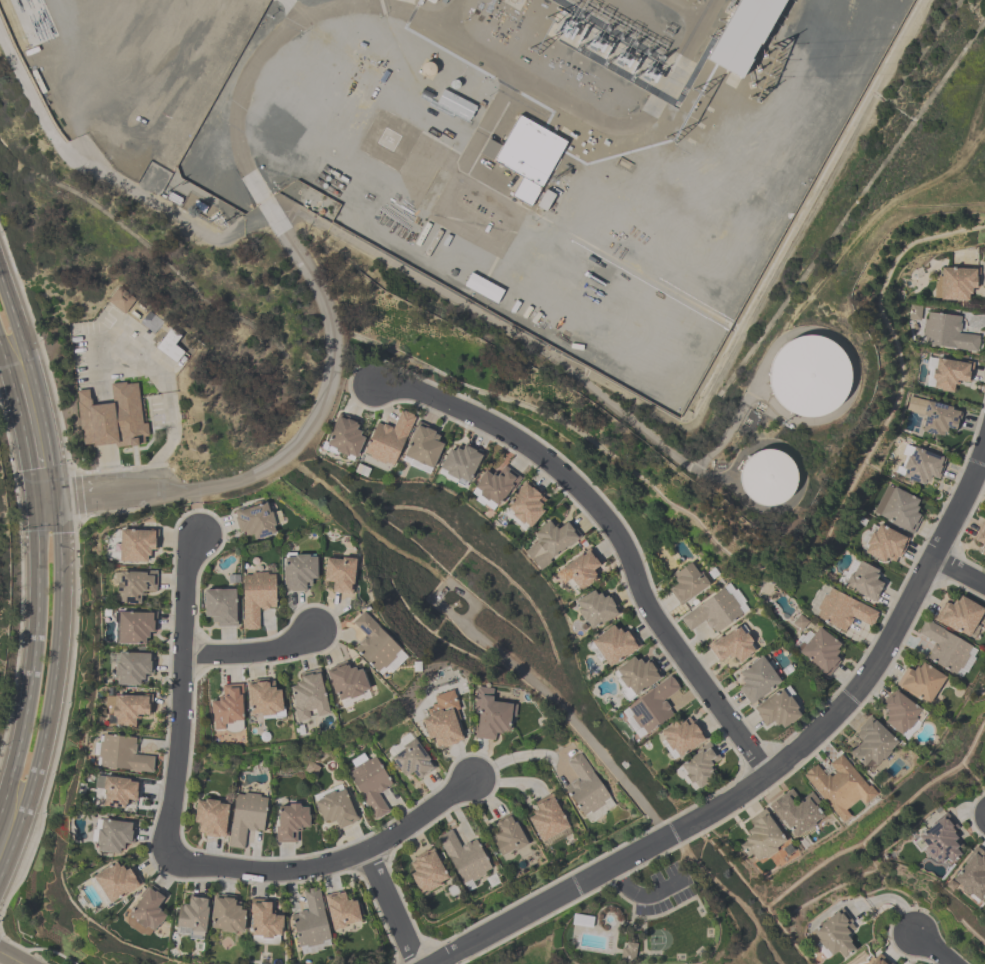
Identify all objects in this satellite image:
building: (436, 2)
building: (744, 35)
road: (72, 48)
helipad: (389, 138)
power substation: (547, 155)
building: (528, 160)
building: (957, 285)
building: (484, 289)
building: (121, 301)
building: (947, 334)
building: (170, 346)
road: (6, 368)
building: (948, 375)
water tower: (799, 377)
building: (810, 377)
road: (327, 388)
building: (113, 418)
building: (939, 419)
building: (345, 438)
road: (24, 443)
building: (387, 443)
building: (424, 448)
building: (460, 465)
building: (920, 465)
building: (768, 478)
water tower: (755, 479)
building: (496, 487)
road: (103, 495)
traffic signals: (56, 499)
traffic signals: (34, 501)
building: (527, 506)
building: (900, 510)
building: (256, 521)
road: (614, 532)
building: (981, 540)
building: (883, 543)
building: (551, 544)
building: (136, 547)
building: (300, 571)
road: (957, 571)
building: (578, 572)
building: (340, 573)
road: (61, 578)
building: (862, 581)
building: (688, 583)
building: (134, 588)
building: (257, 597)
building: (221, 607)
building: (841, 609)
building: (596, 610)
building: (716, 611)
building: (961, 616)
building: (134, 629)
building: (377, 645)
building: (613, 646)
building: (733, 646)
building: (948, 650)
building: (819, 651)
road: (252, 653)
road: (33, 659)
building: (132, 670)
building: (635, 677)
building: (758, 681)
building: (348, 683)
road: (180, 696)
building: (310, 697)
building: (911, 700)
building: (265, 701)
building: (228, 708)
building: (650, 709)
building: (129, 711)
building: (778, 711)
building: (491, 715)
building: (443, 723)
building: (682, 738)
building: (873, 745)
building: (122, 756)
building: (413, 762)
road: (778, 767)
building: (700, 769)
building: (371, 787)
building: (587, 790)
building: (118, 794)
building: (819, 797)
building: (335, 810)
building: (232, 819)
building: (550, 822)
building: (291, 824)
building: (508, 836)
building: (114, 837)
building: (760, 841)
building: (943, 843)
building: (465, 859)
road: (331, 862)
building: (427, 873)
building: (972, 876)
building: (116, 883)
road: (640, 895)
road: (391, 908)
building: (148, 913)
building: (984, 917)
building: (228, 918)
building: (192, 919)
building: (322, 920)
building: (583, 920)
building: (265, 923)
building: (834, 935)
road: (932, 946)
building: (628, 952)
road: (7, 960)
building: (880, 961)

